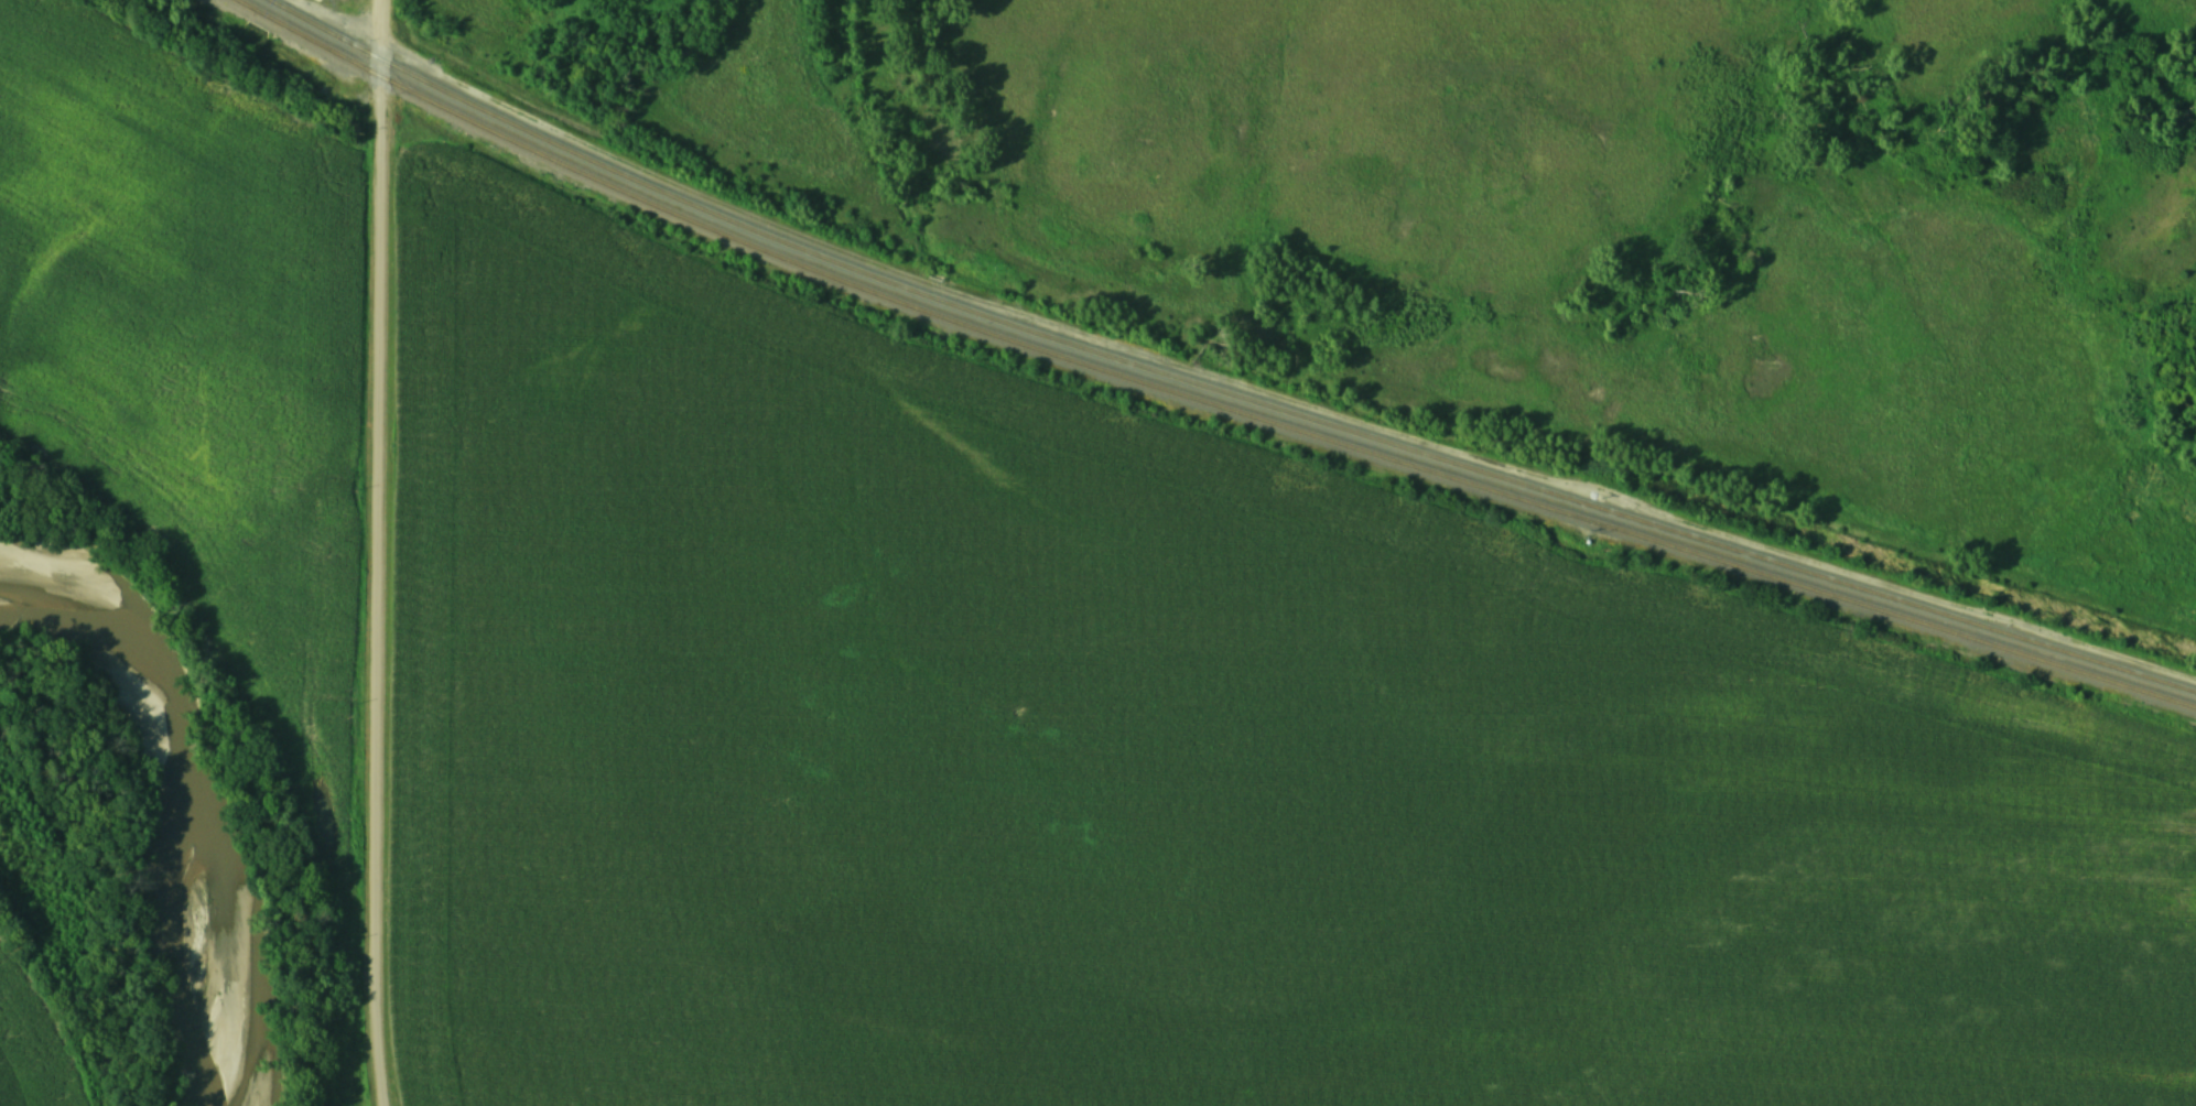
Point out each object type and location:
railway: (1219, 386)
railway: (1203, 394)
road: (375, 553)
river: (163, 799)

